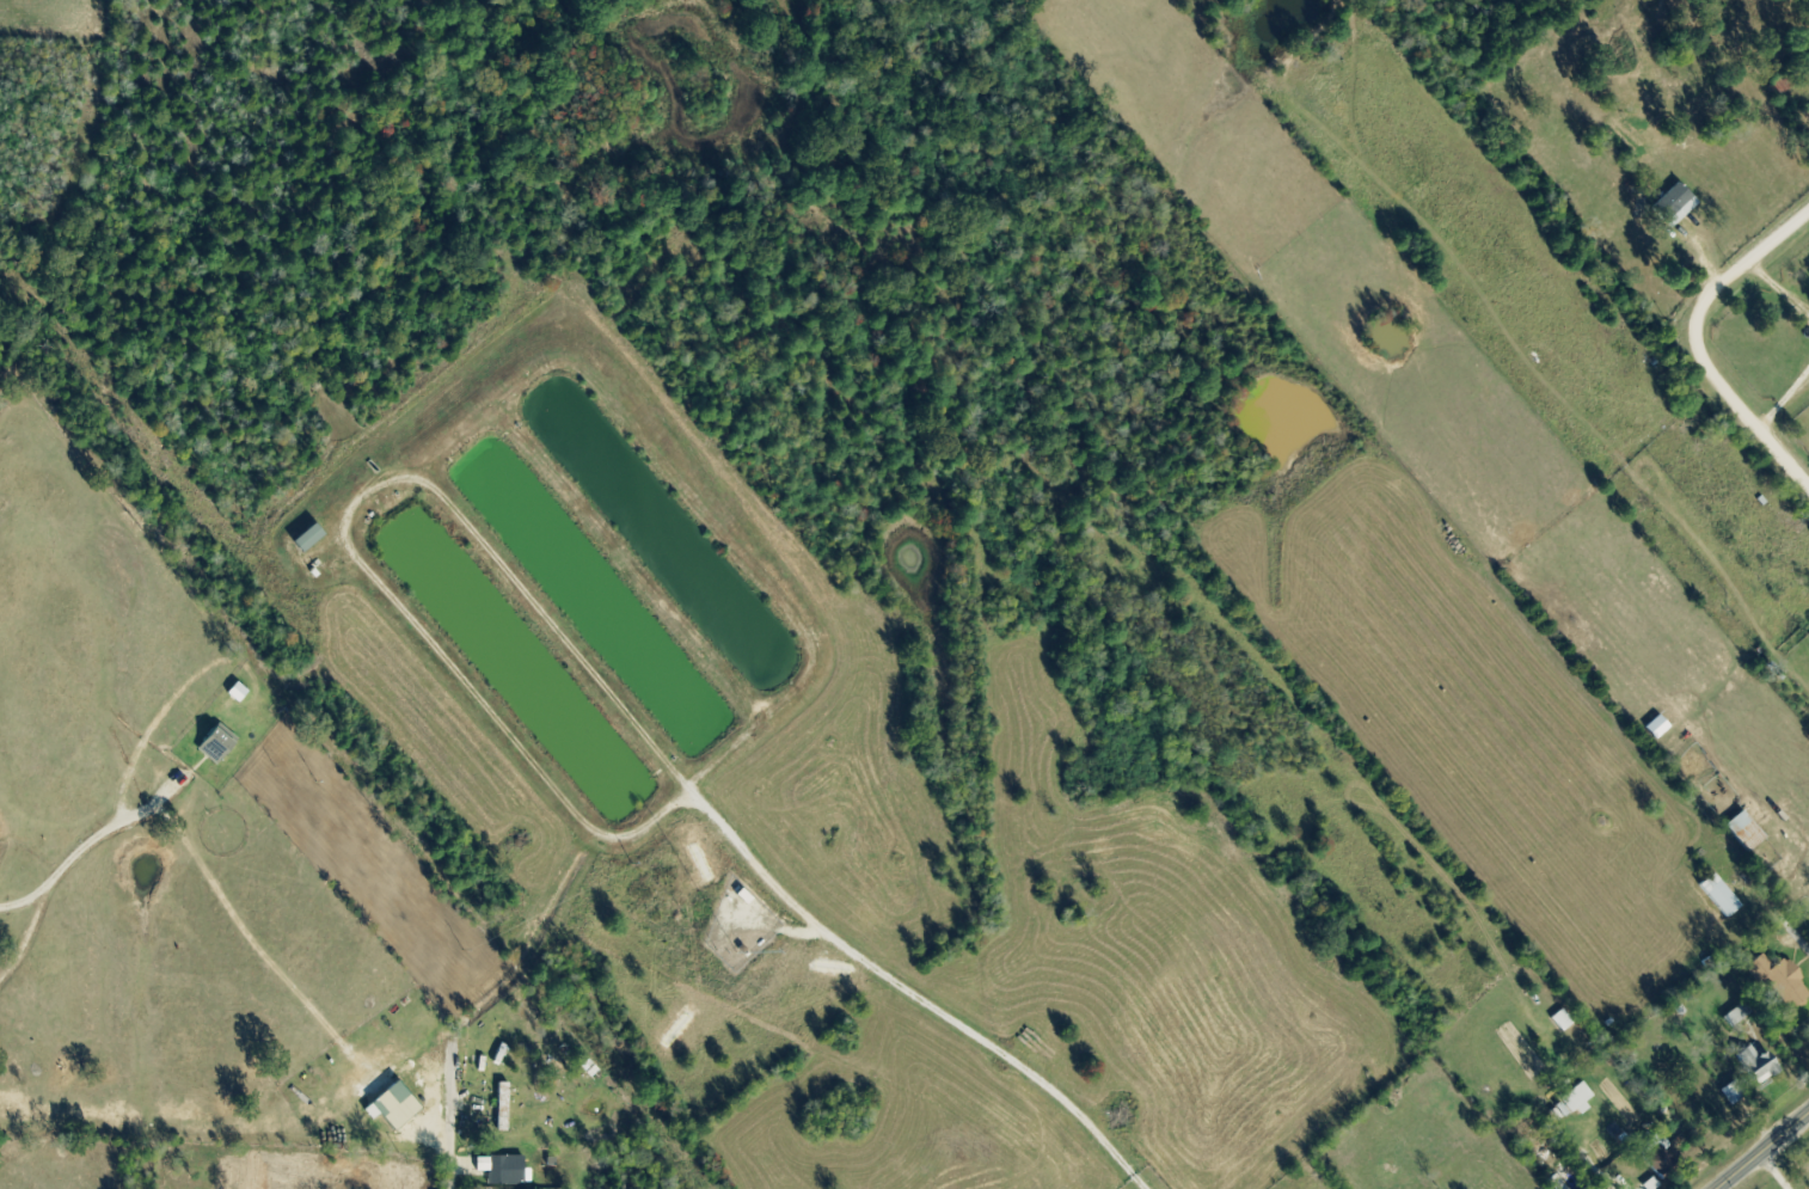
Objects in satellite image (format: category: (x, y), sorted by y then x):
building: (1673, 206)
road: (1692, 343)
railway: (127, 594)
building: (211, 731)
building: (1743, 833)
building: (1718, 895)
building: (1779, 981)
building: (1754, 1065)
building: (1575, 1097)
building: (502, 1107)
road: (1762, 1150)
road: (449, 1154)
building: (1654, 1157)
building: (491, 1170)

